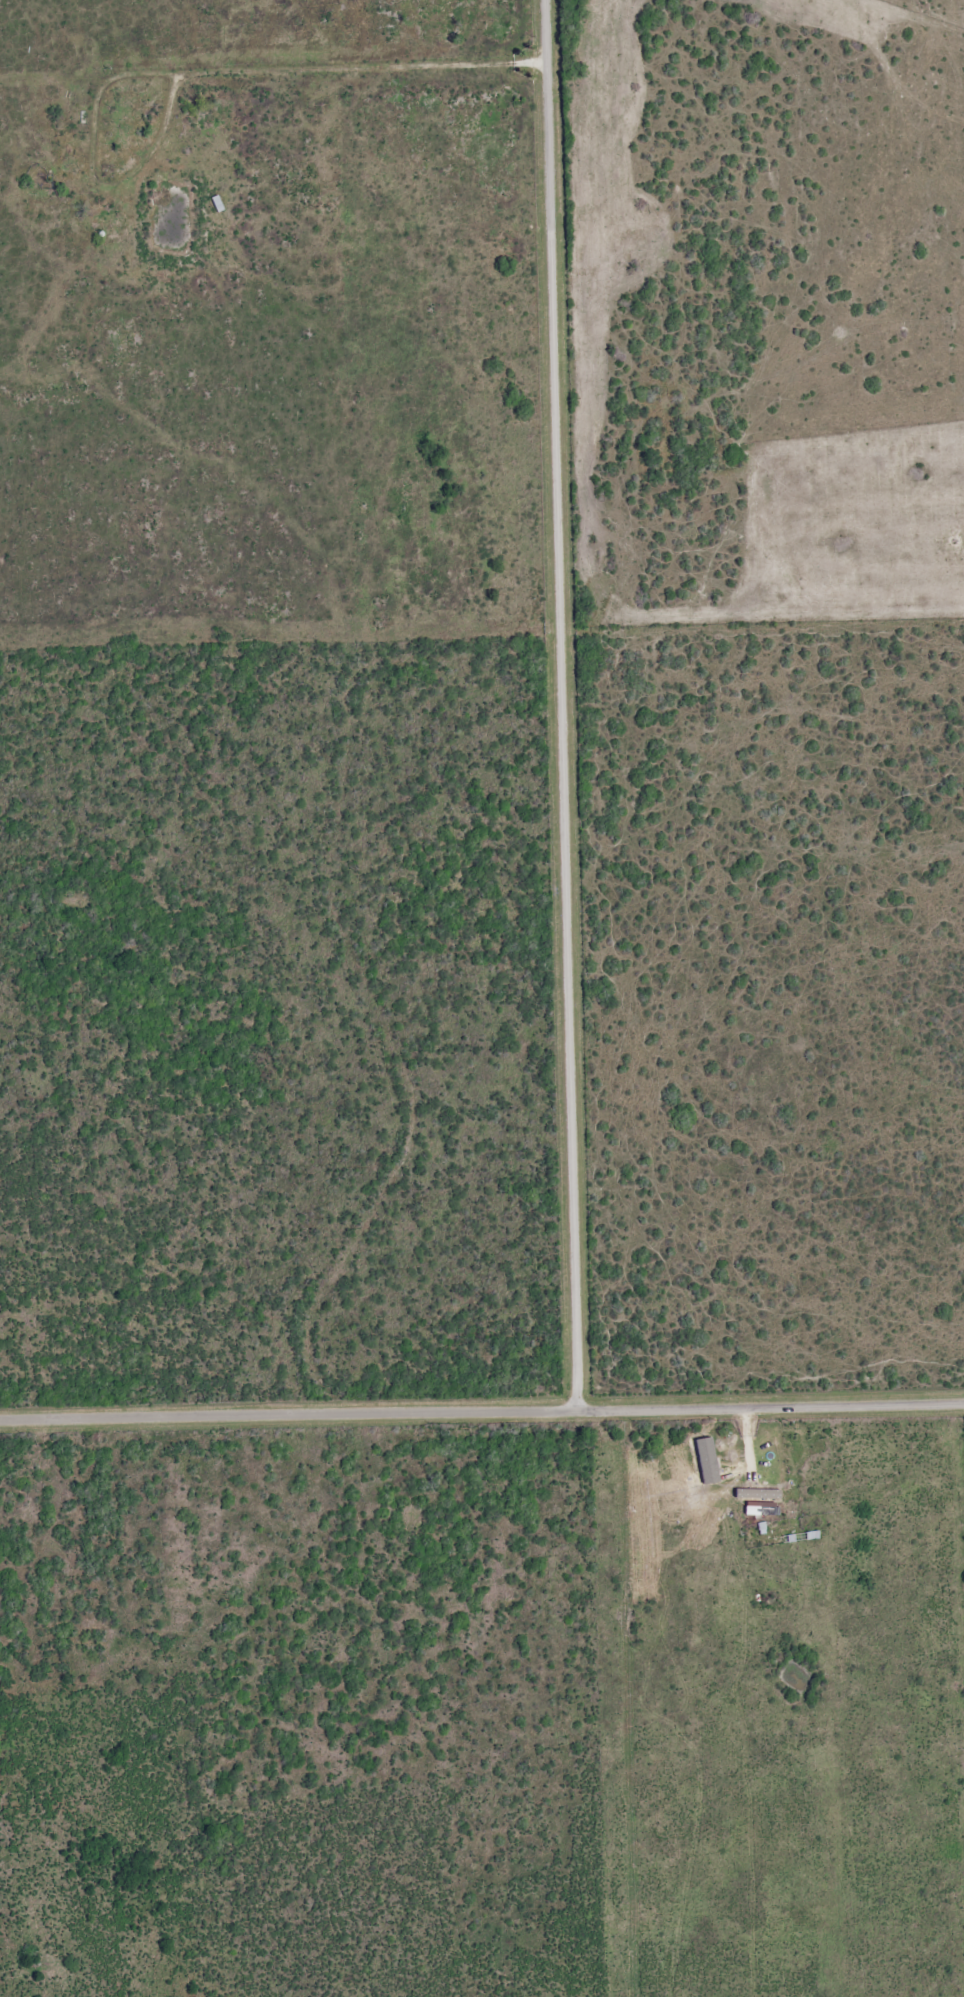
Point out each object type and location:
road: (564, 702)
road: (481, 1407)
building: (706, 1460)
building: (757, 1493)
building: (758, 1508)

